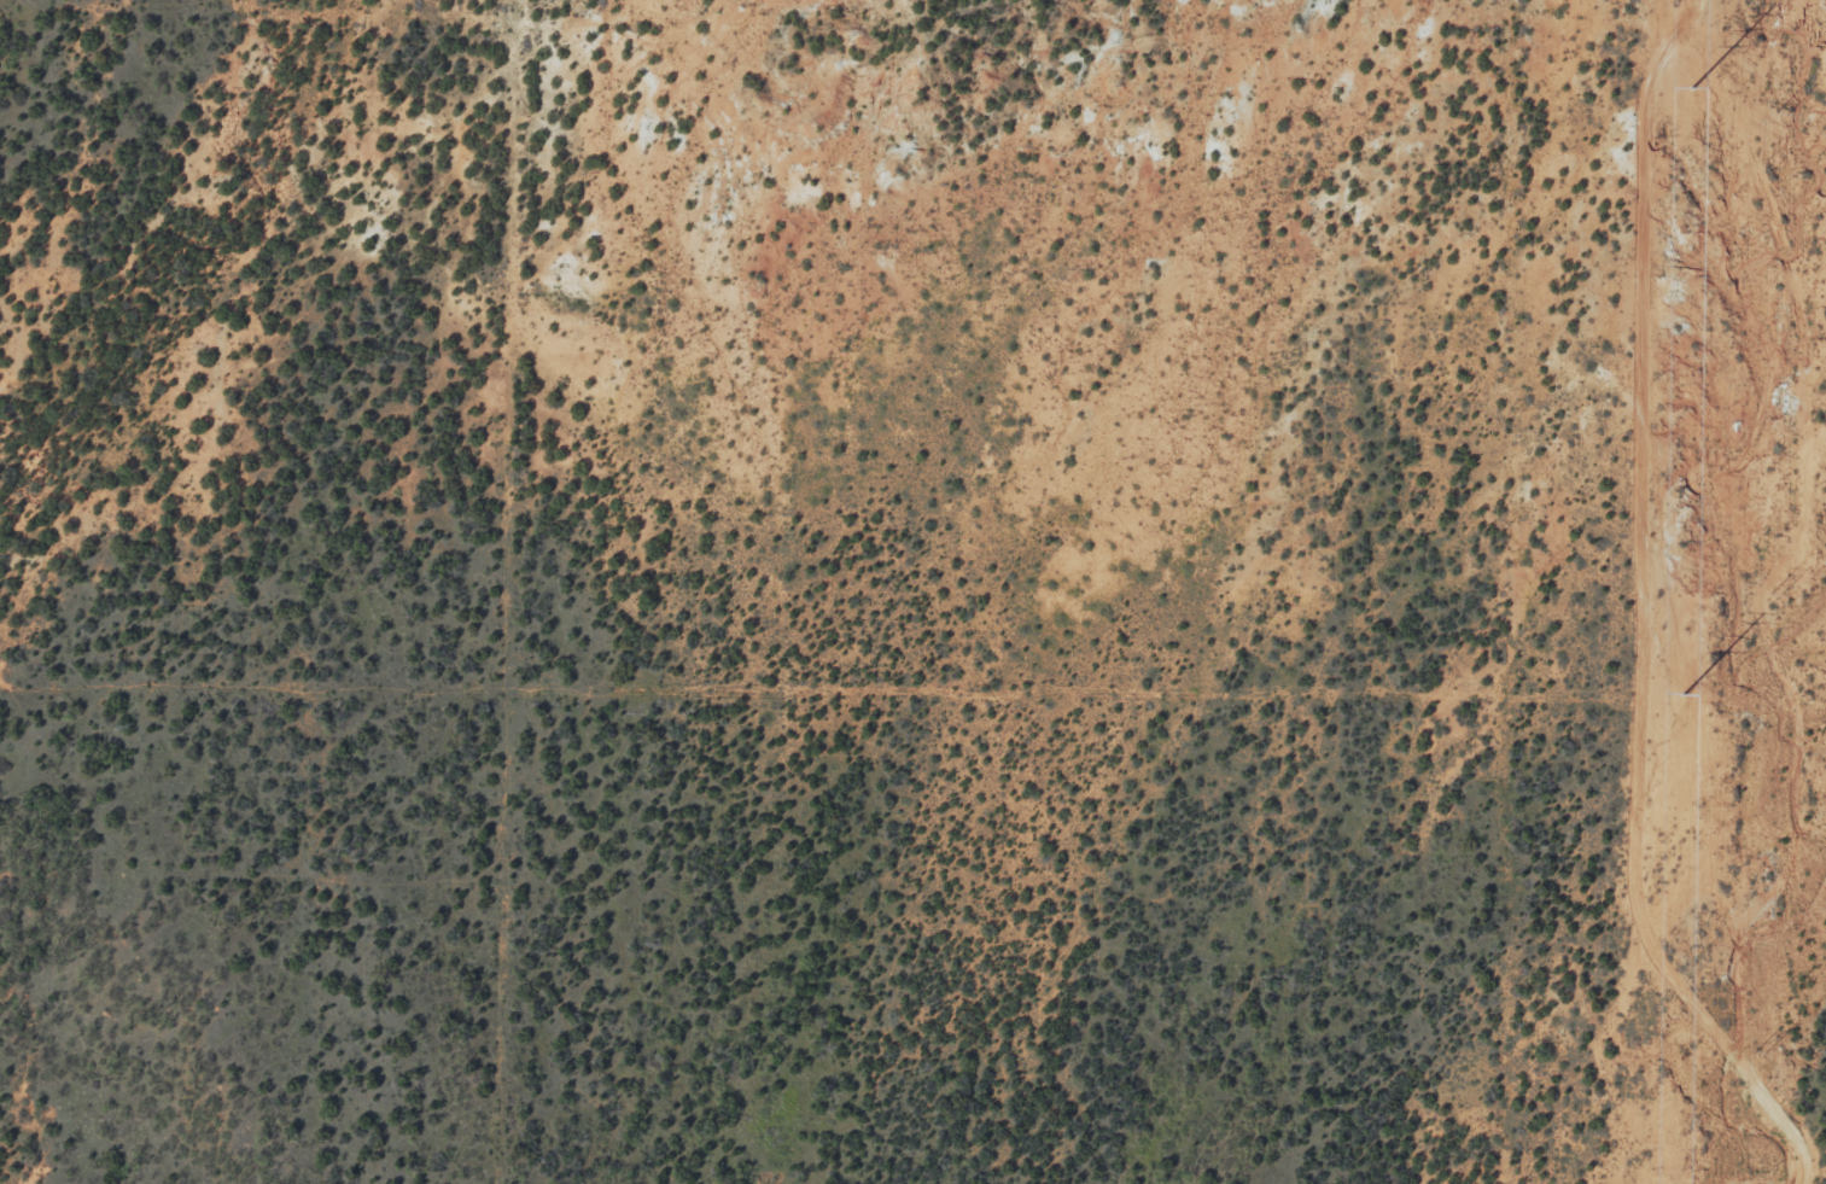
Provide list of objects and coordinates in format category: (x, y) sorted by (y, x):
power tower: (1692, 88)
power tower: (1781, 111)
power tower: (1774, 593)
power tower: (1684, 695)
power tower: (1767, 1054)

